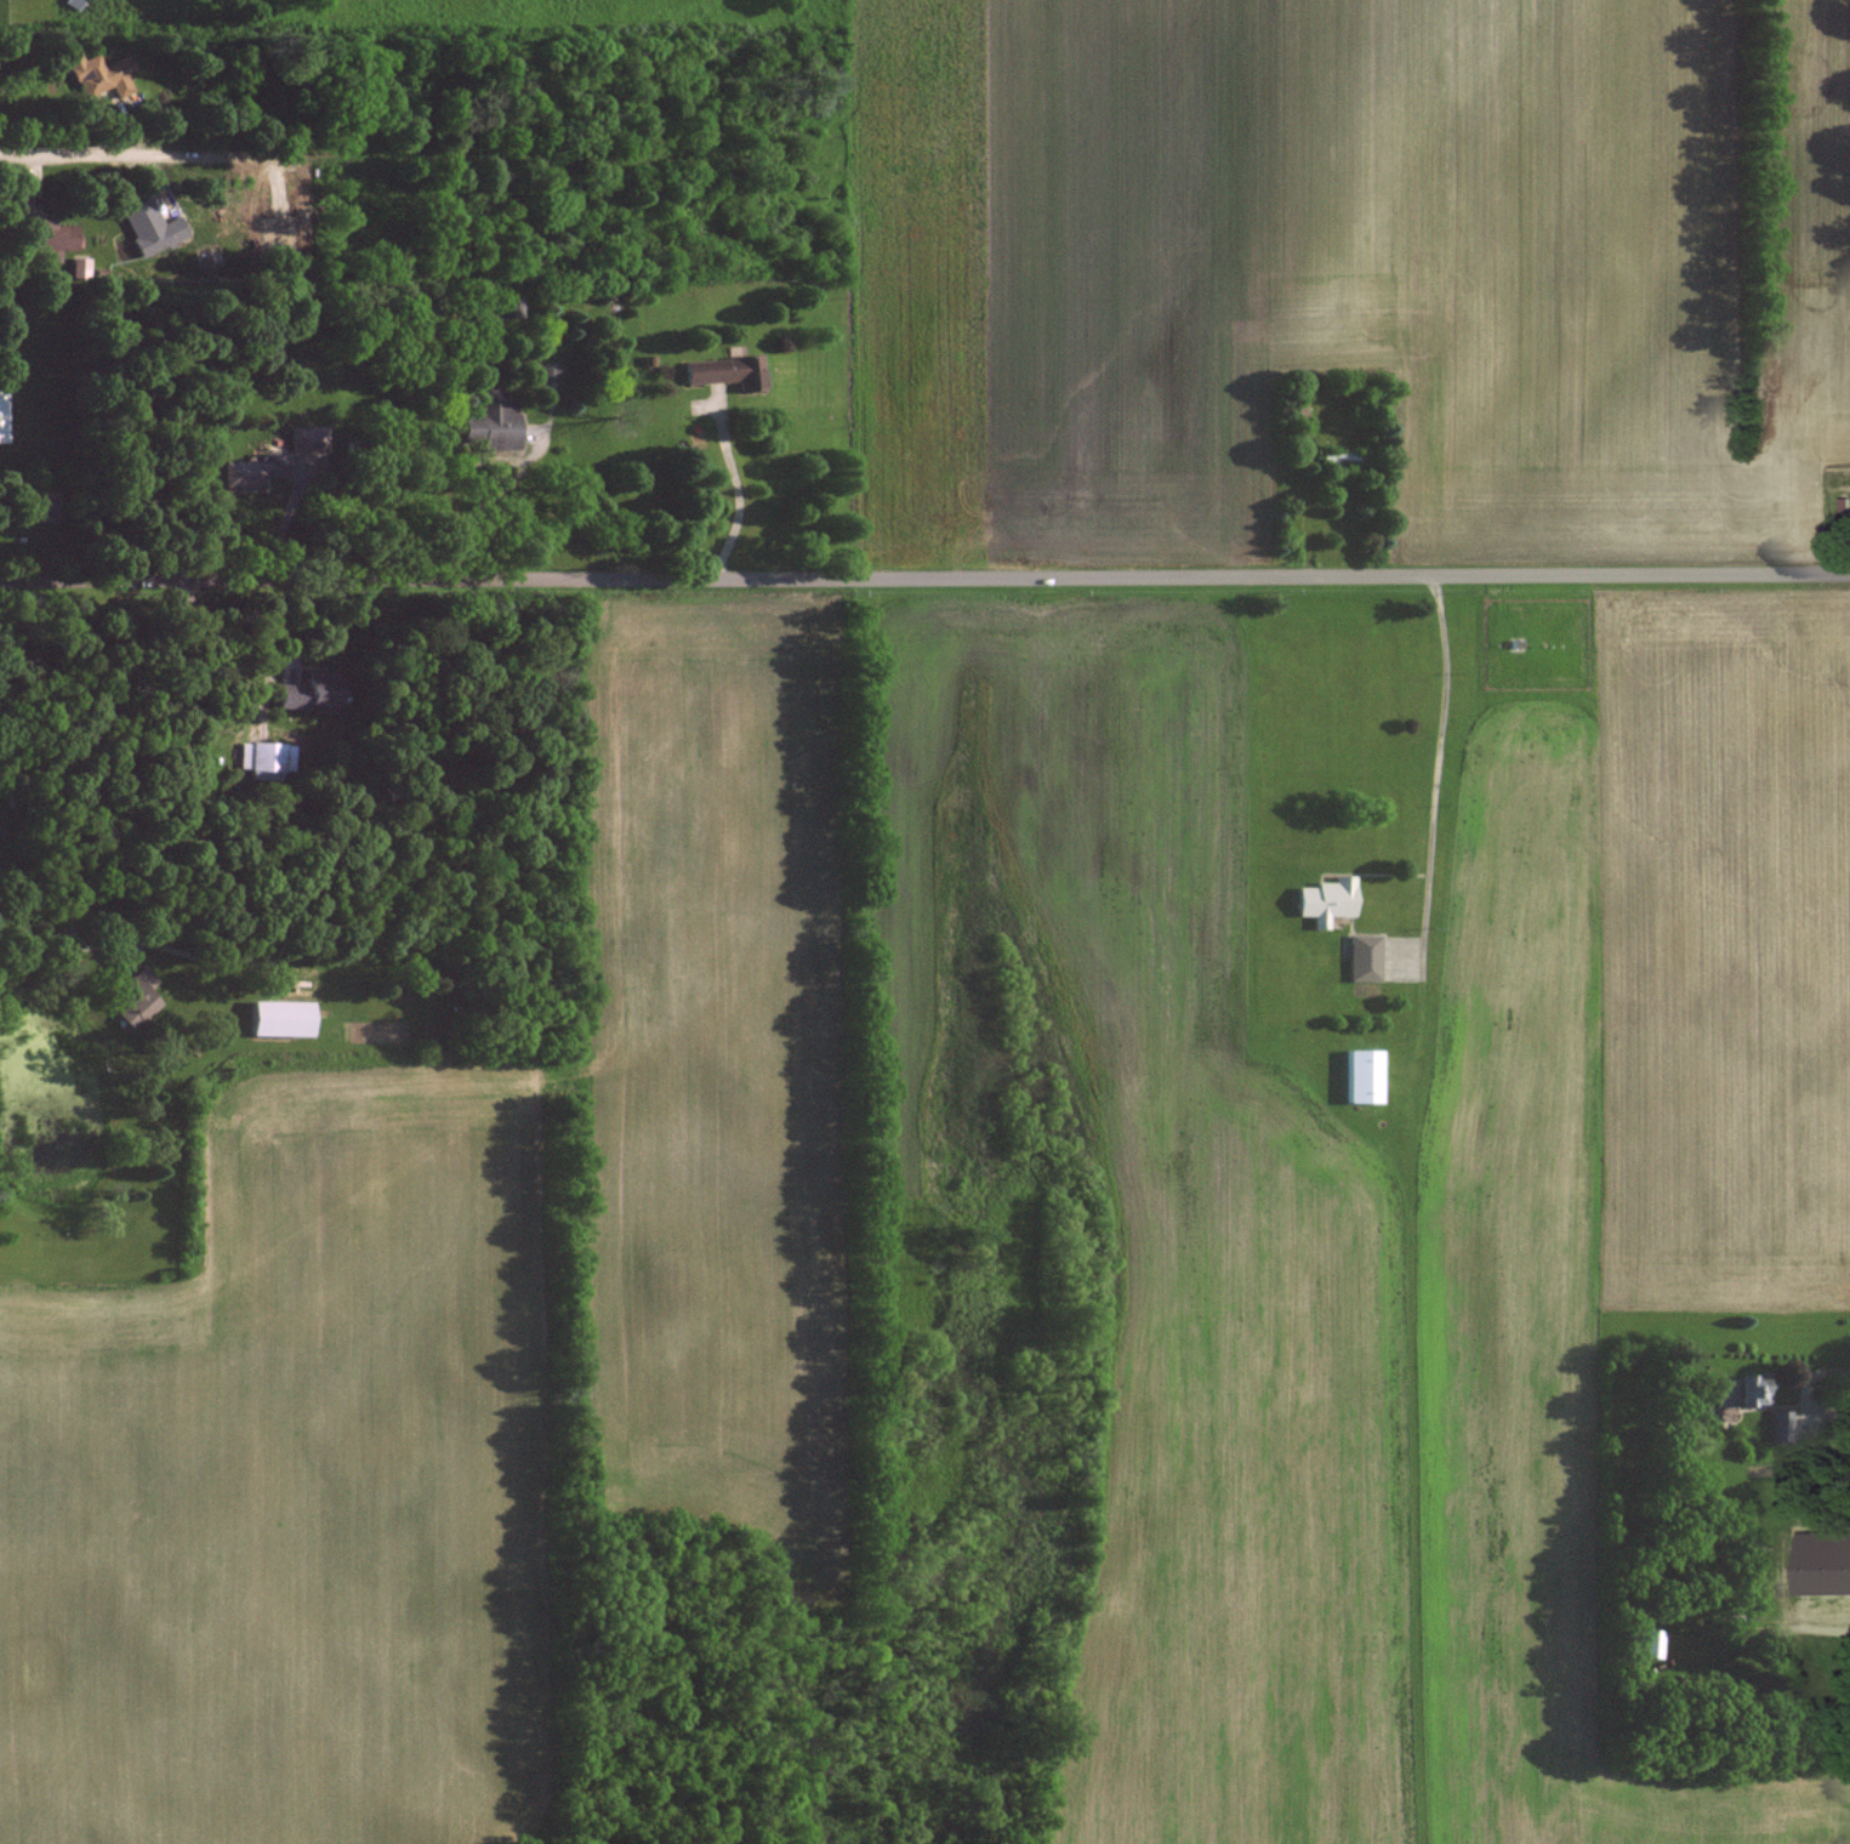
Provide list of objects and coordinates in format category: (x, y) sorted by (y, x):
building: (98, 75)
road: (91, 149)
building: (44, 234)
building: (508, 306)
building: (721, 371)
building: (541, 375)
building: (1, 415)
building: (1297, 417)
building: (489, 423)
building: (304, 439)
building: (1340, 459)
building: (250, 471)
road: (505, 484)
road: (734, 490)
building: (44, 505)
road: (924, 582)
building: (304, 690)
road: (1440, 725)
building: (260, 758)
building: (1324, 900)
road: (72, 955)
building: (1362, 958)
building: (136, 998)
building: (1361, 1076)
building: (1740, 1389)
road: (1803, 1390)
building: (1778, 1425)
building: (1640, 1643)

